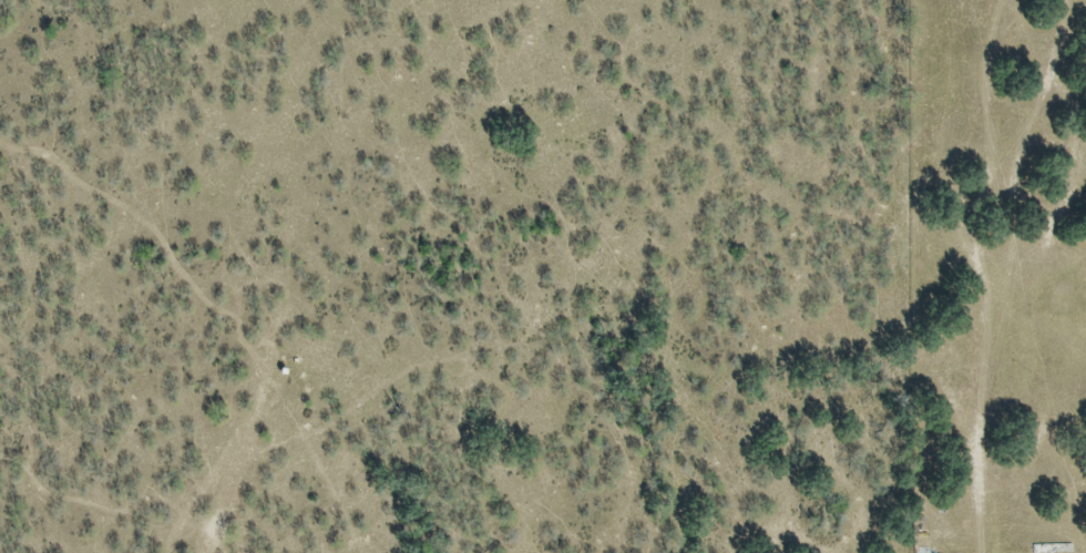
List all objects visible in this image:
road: (973, 276)

